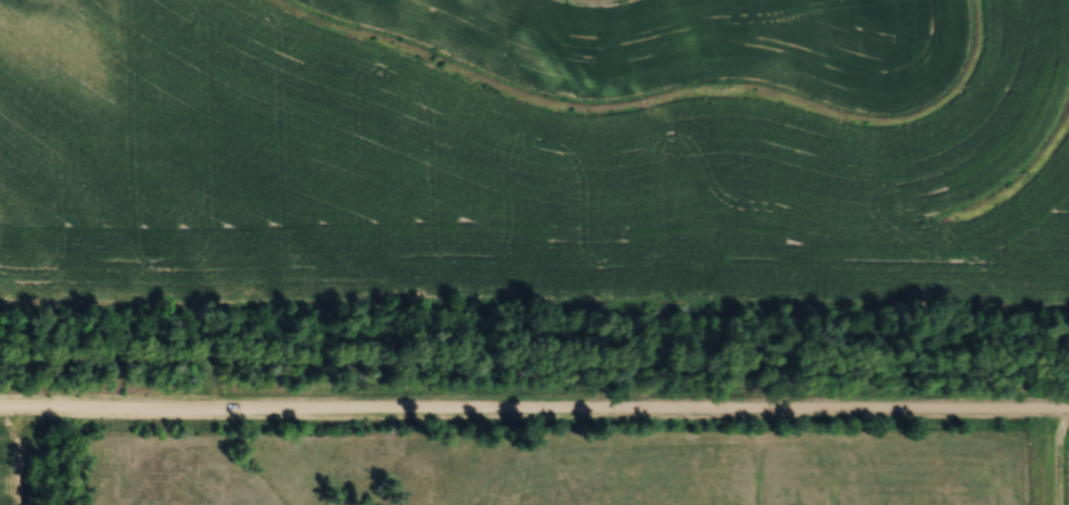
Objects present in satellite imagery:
road: (534, 407)
road: (1051, 462)

